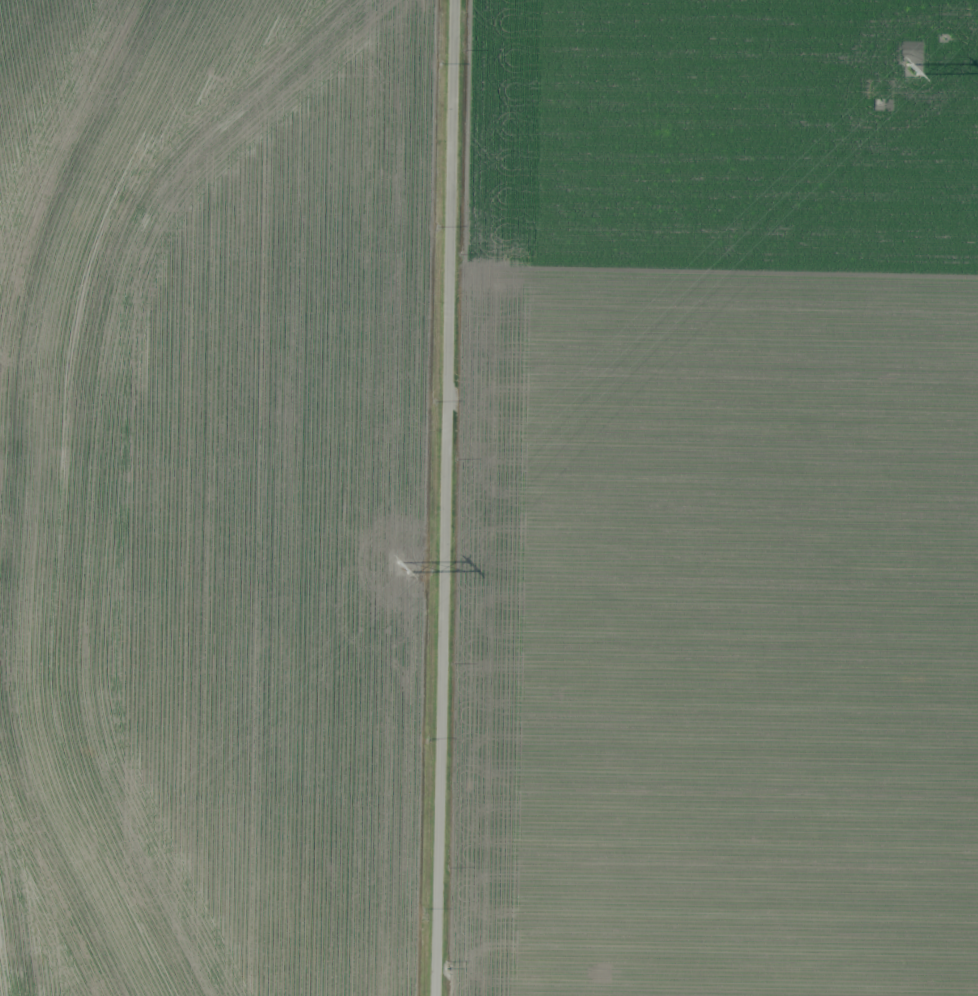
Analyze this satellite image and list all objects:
power tower: (911, 69)
road: (439, 498)
power tower: (405, 566)

